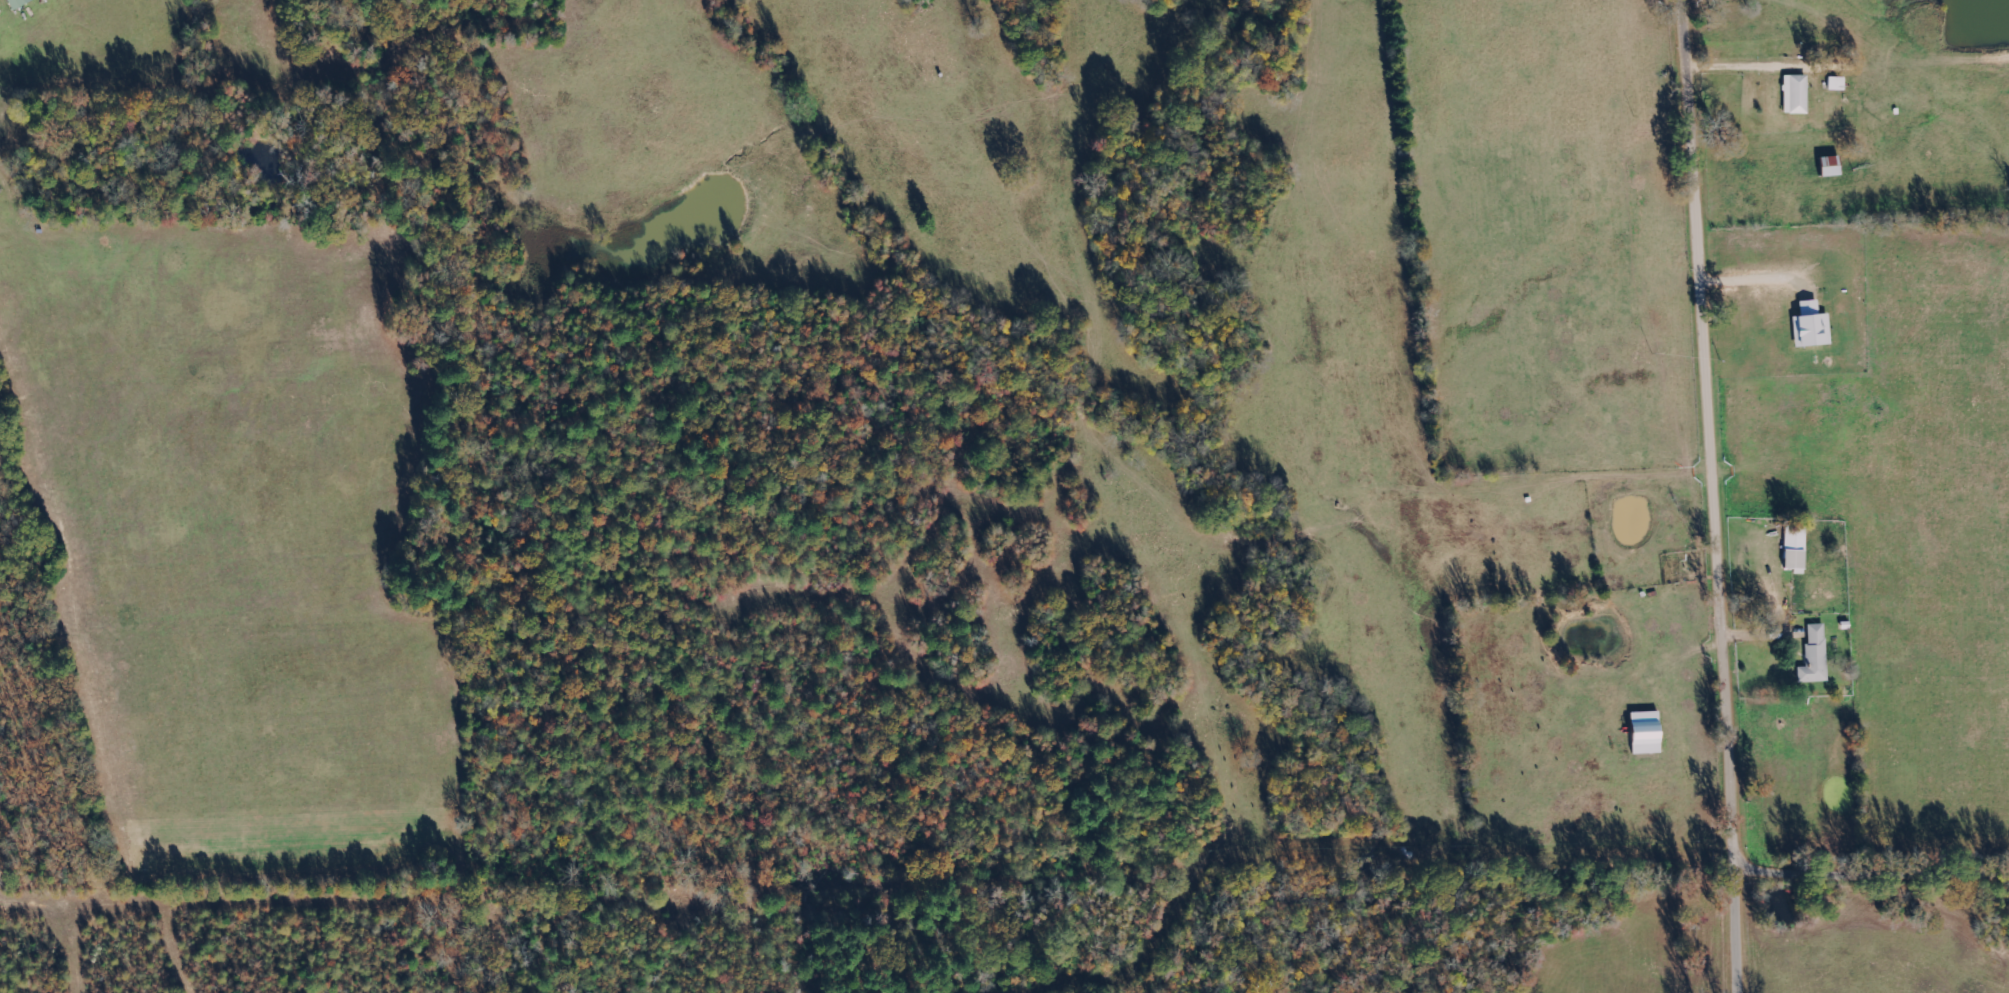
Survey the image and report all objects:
building: (1834, 85)
building: (1793, 95)
building: (1827, 167)
building: (1809, 327)
road: (1721, 496)
building: (1792, 547)
building: (1813, 656)
building: (1643, 734)
road: (1874, 876)

